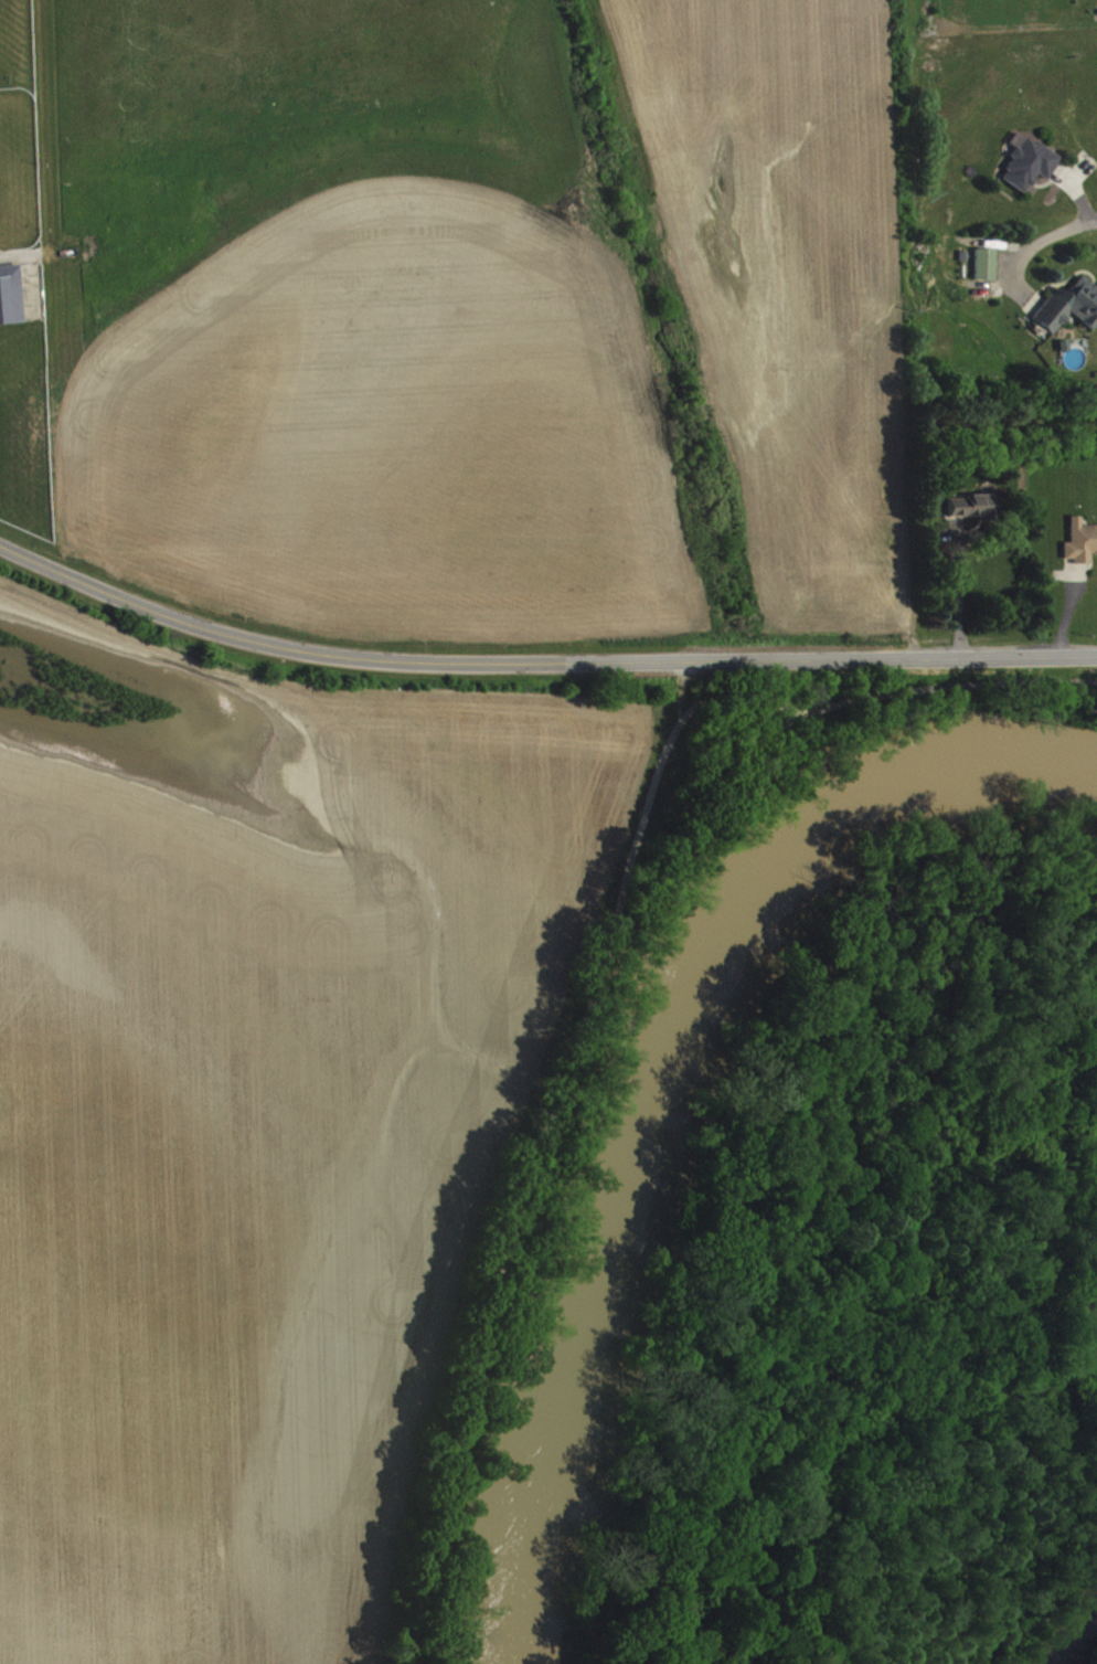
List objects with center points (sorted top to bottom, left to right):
building: (1030, 170)
road: (1035, 246)
building: (988, 272)
building: (11, 303)
building: (1071, 314)
building: (972, 515)
building: (1082, 550)
road: (956, 595)
road: (537, 667)
road: (595, 984)
river: (661, 1082)

